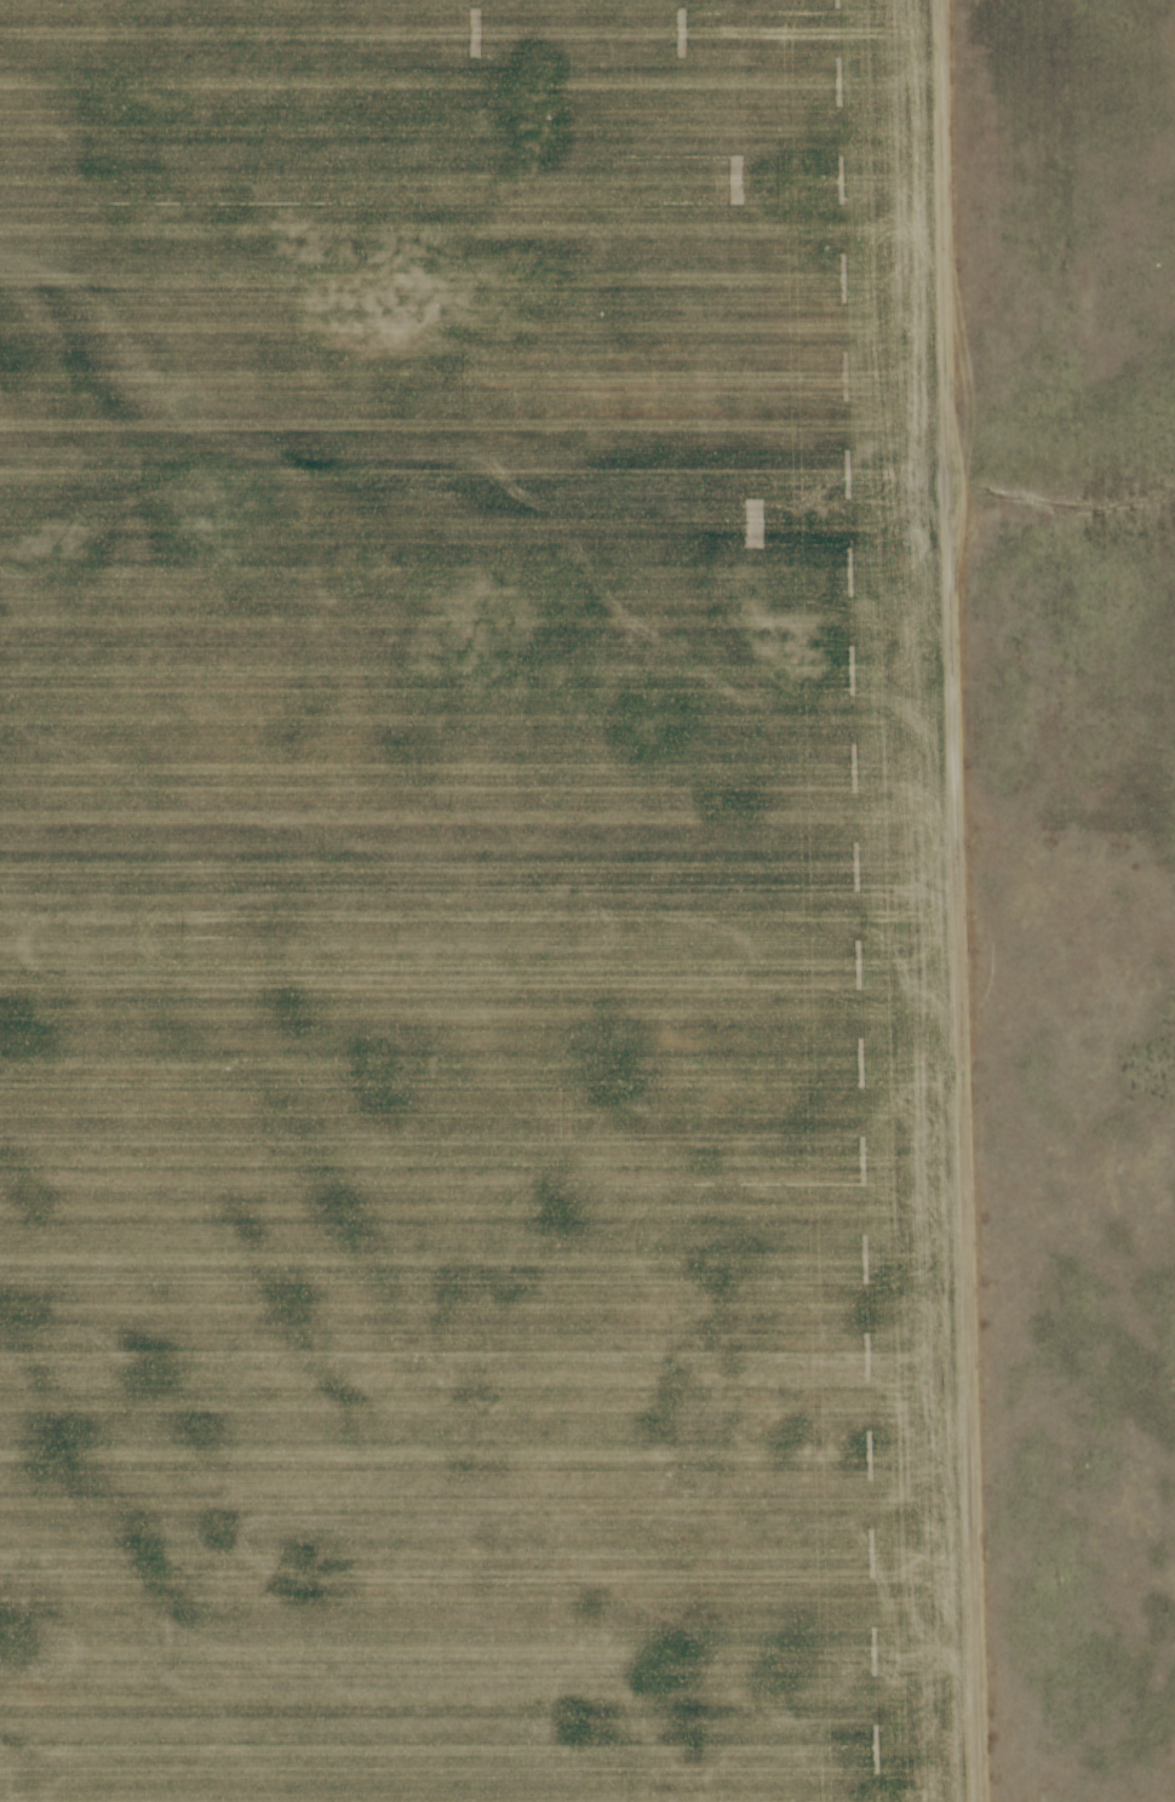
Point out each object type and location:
road: (961, 899)

